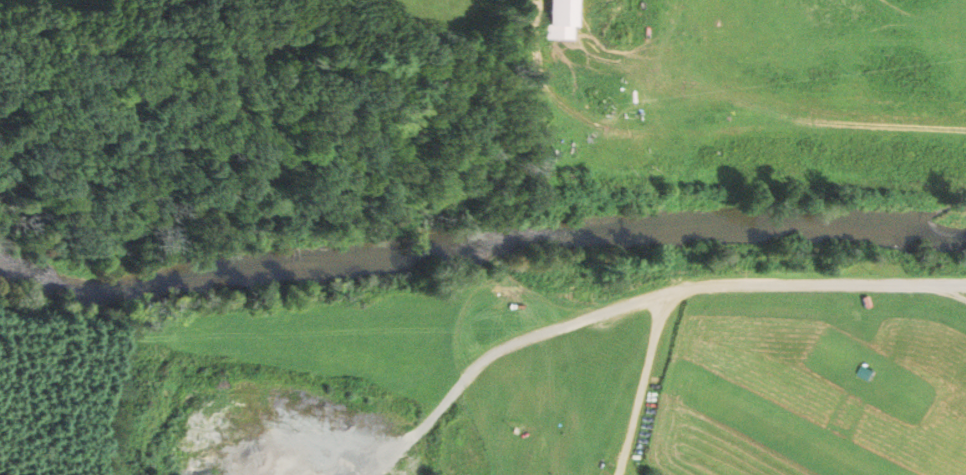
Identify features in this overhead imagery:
building: (562, 19)
park: (281, 53)
river: (481, 242)
road: (953, 290)
road: (669, 291)
building: (864, 374)

